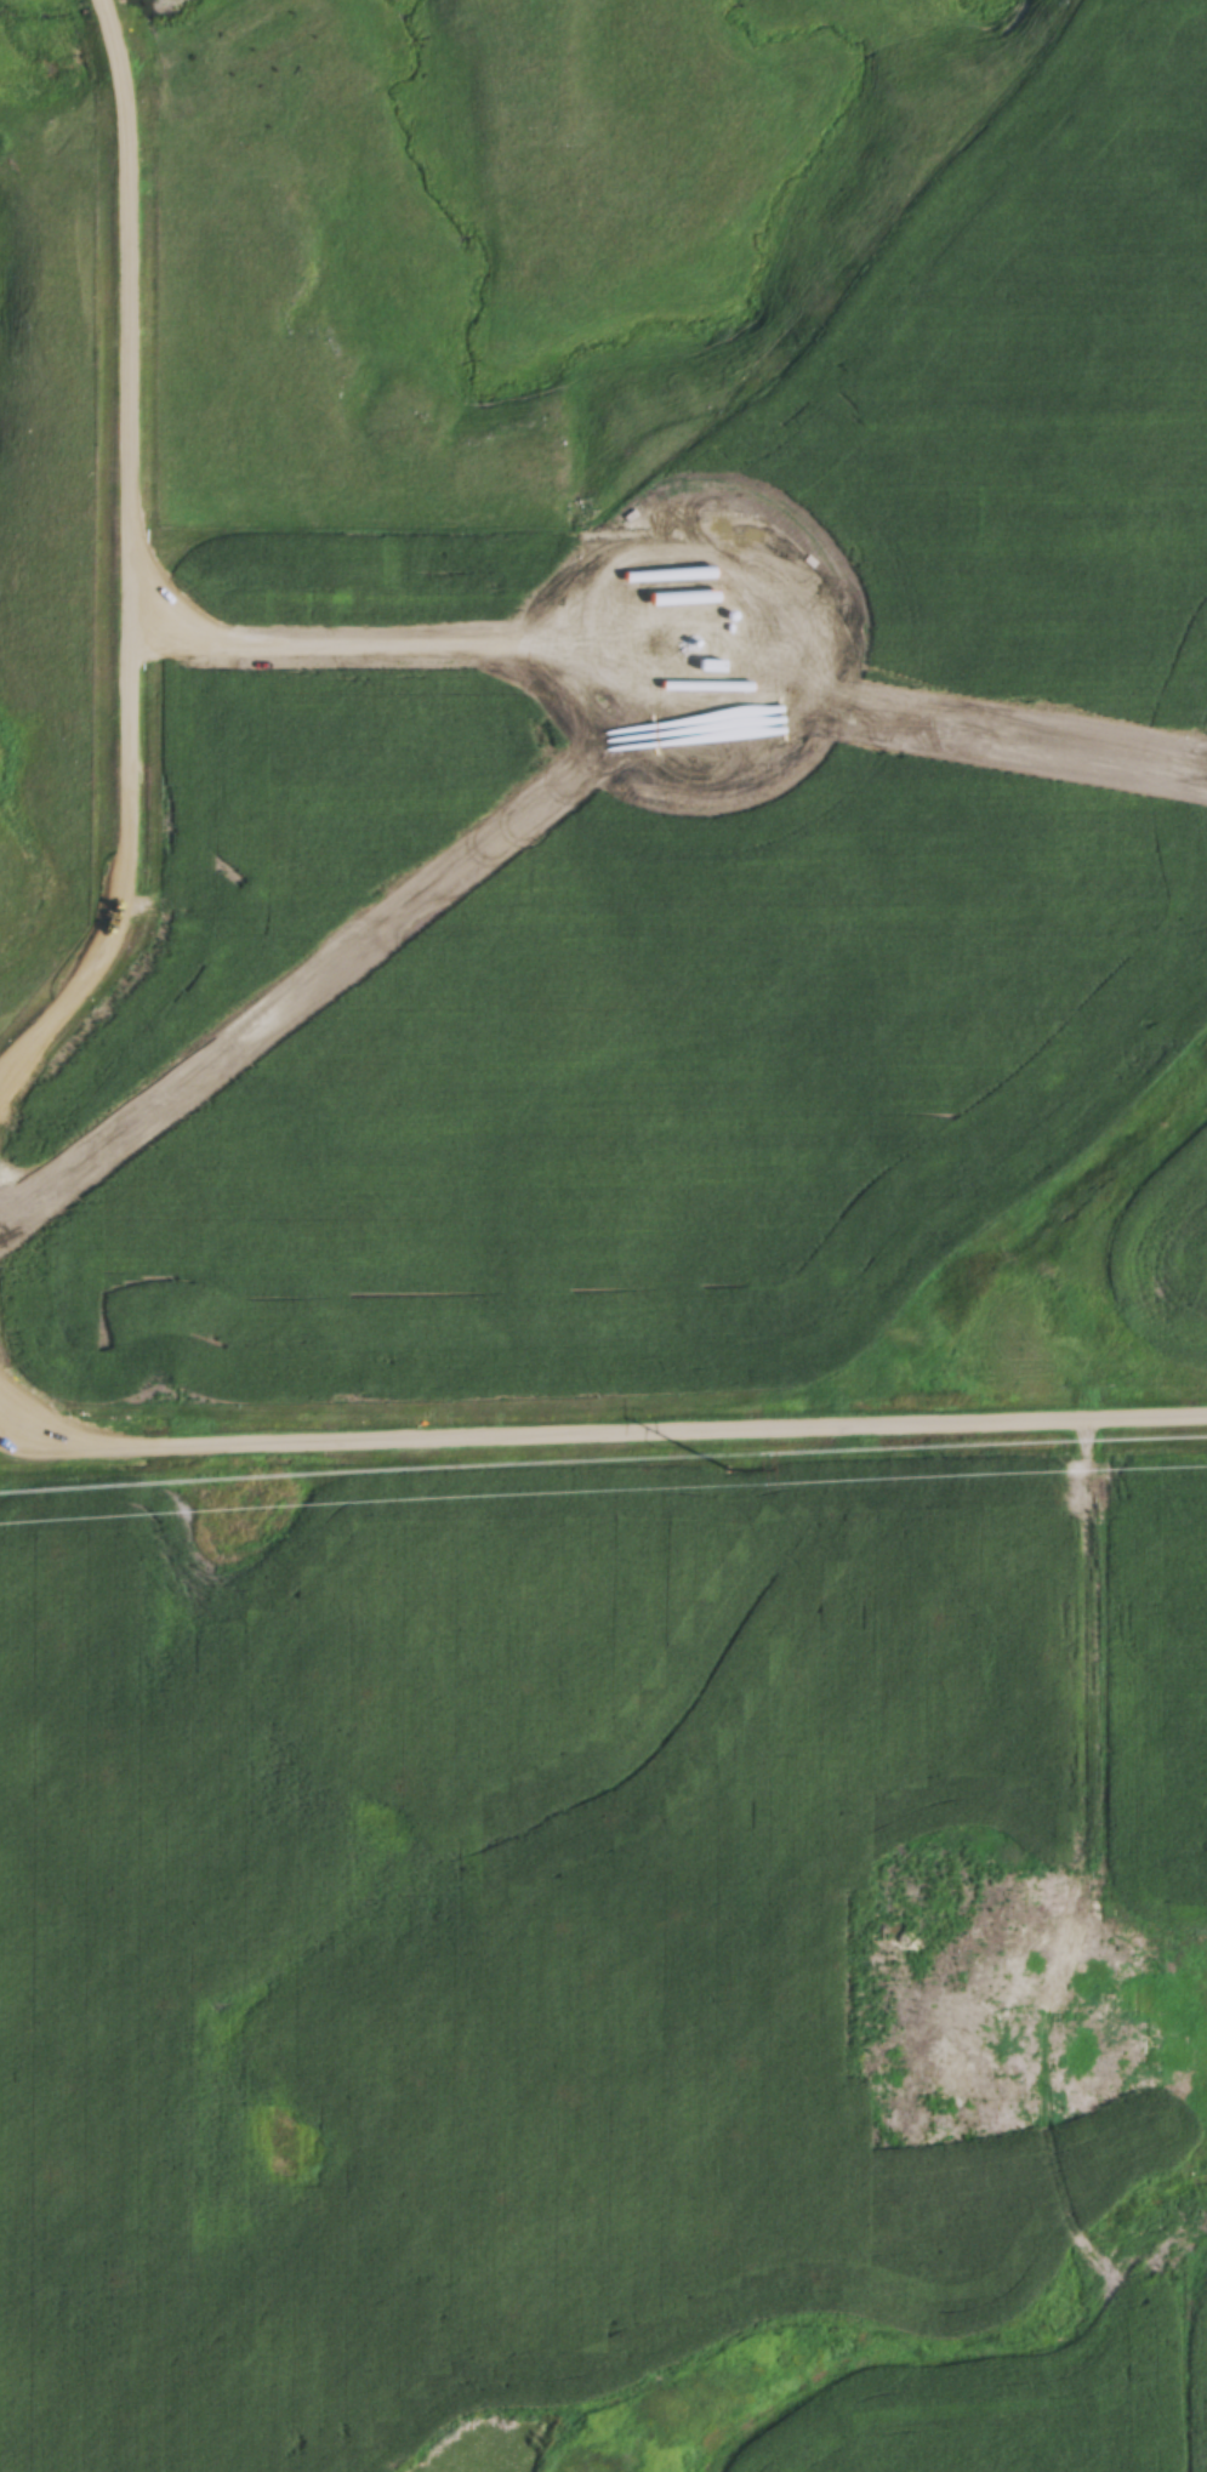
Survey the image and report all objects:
road: (127, 556)
wind turbine: (699, 655)
road: (603, 1429)
power tower: (729, 1466)
road: (1065, 1721)

